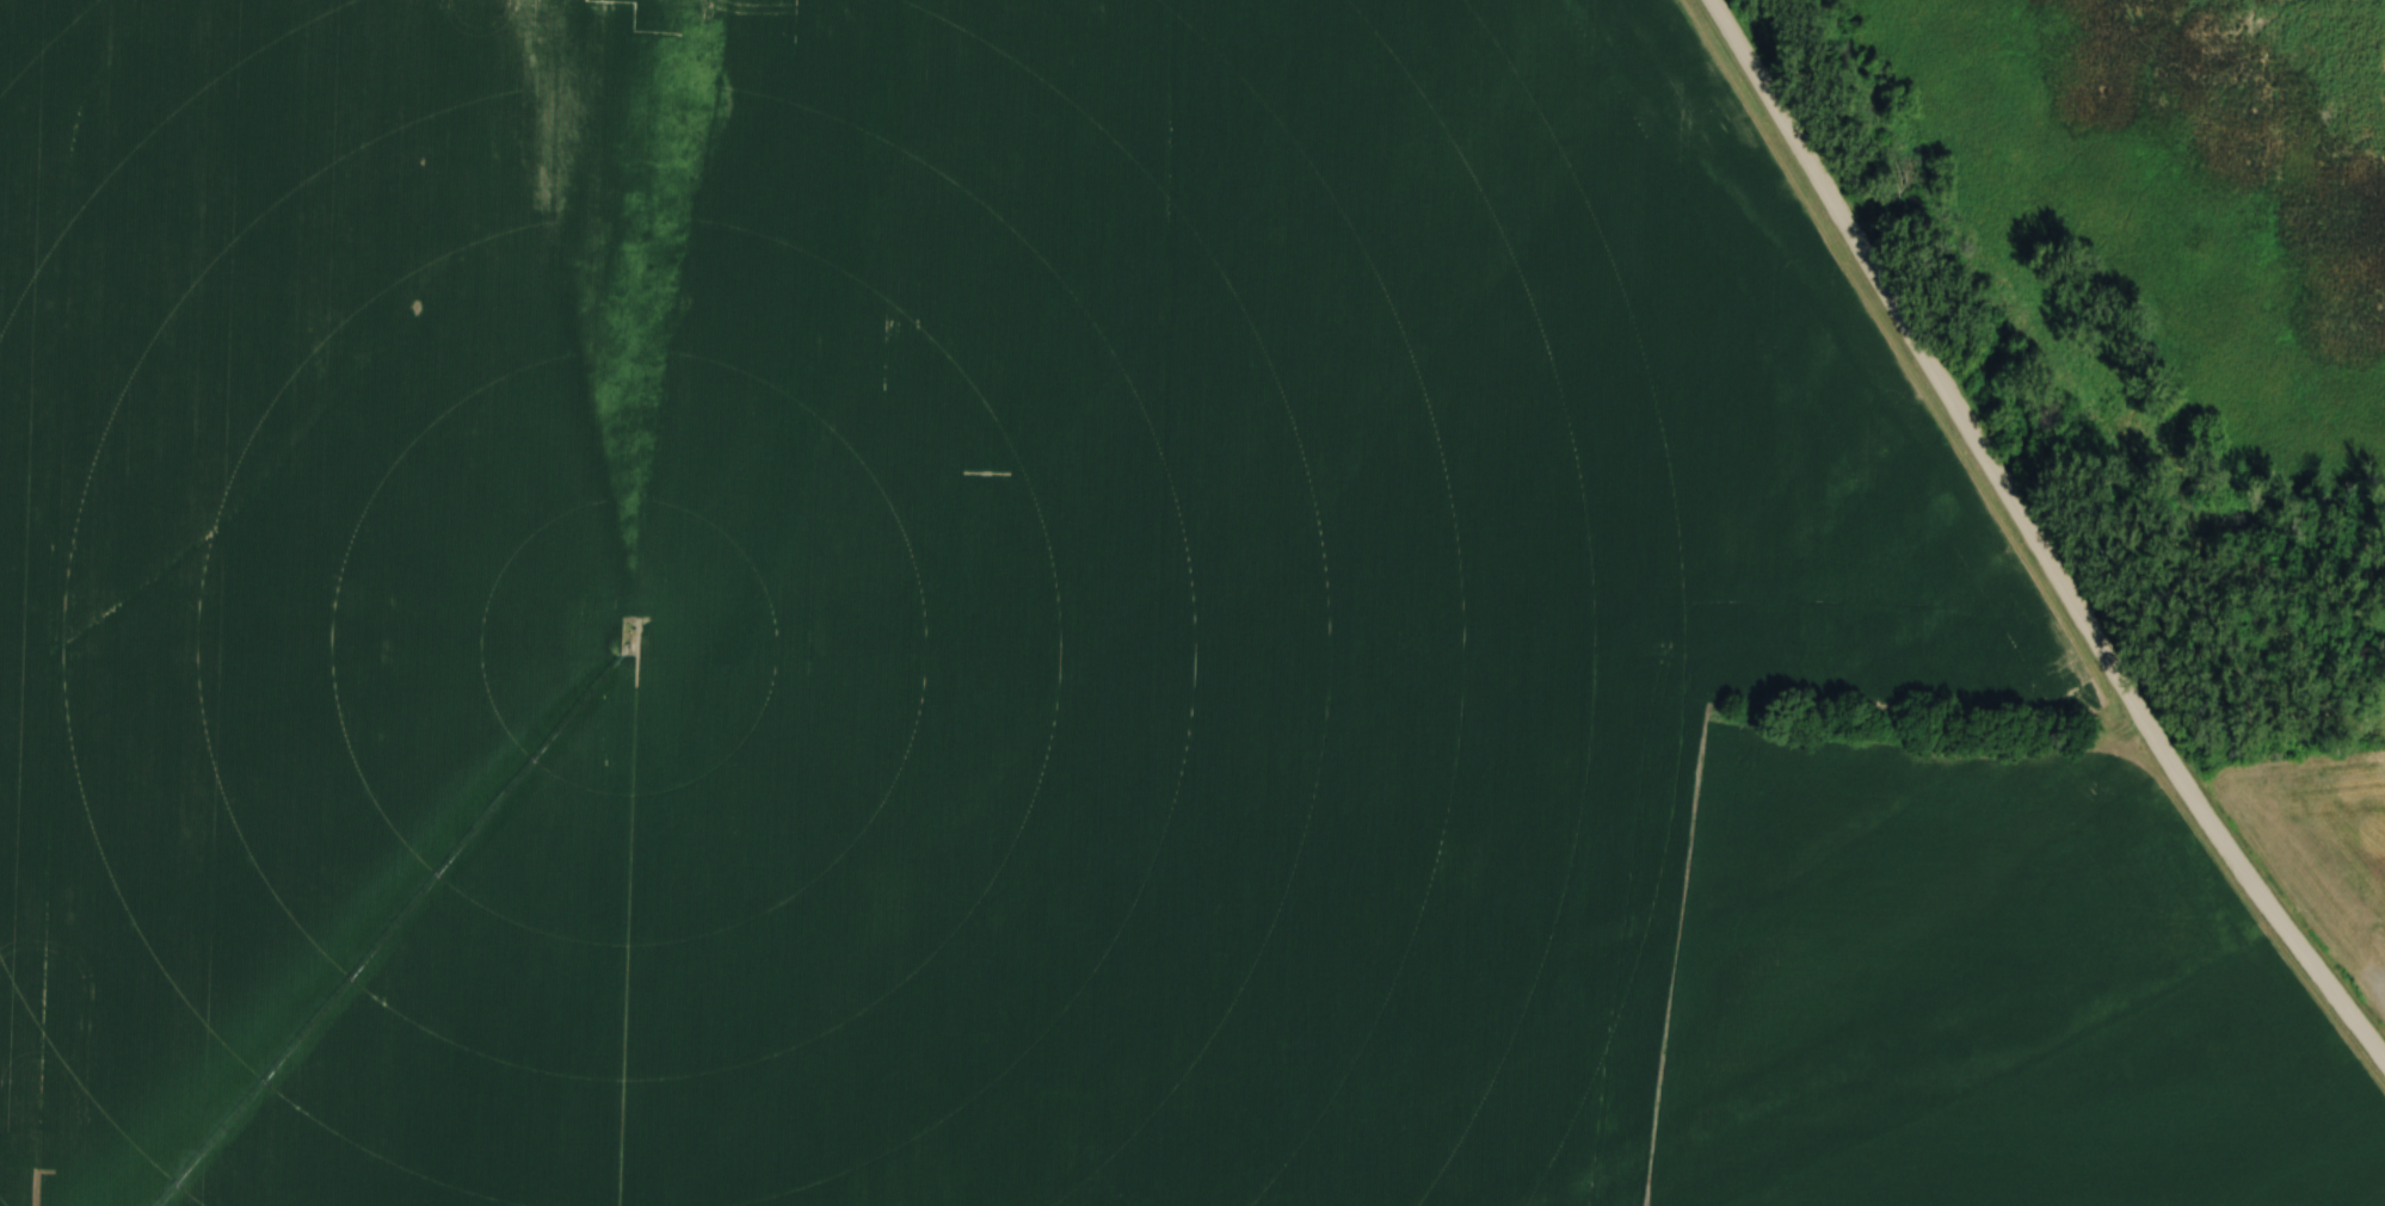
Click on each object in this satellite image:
road: (2033, 538)

